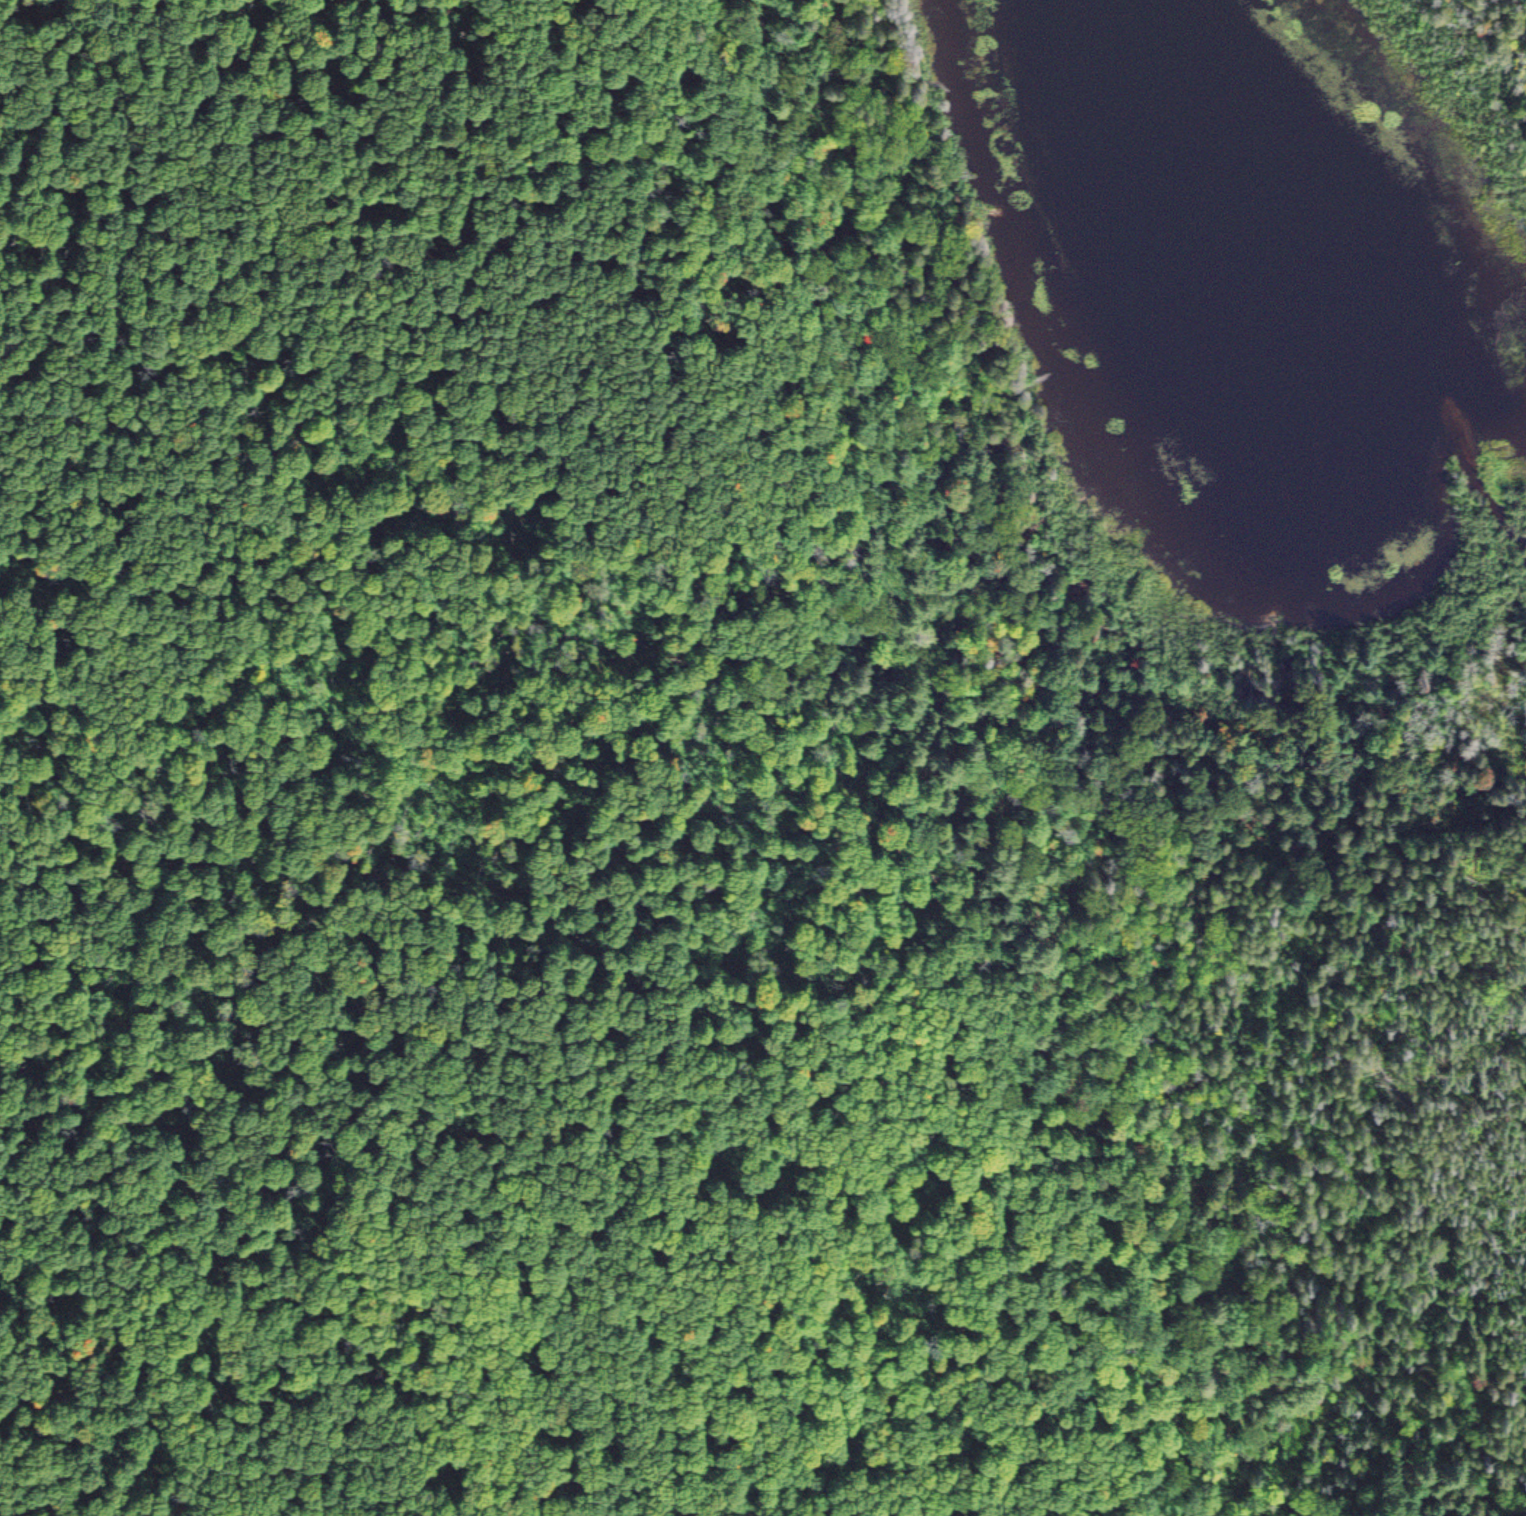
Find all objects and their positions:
river: (1343, 223)

